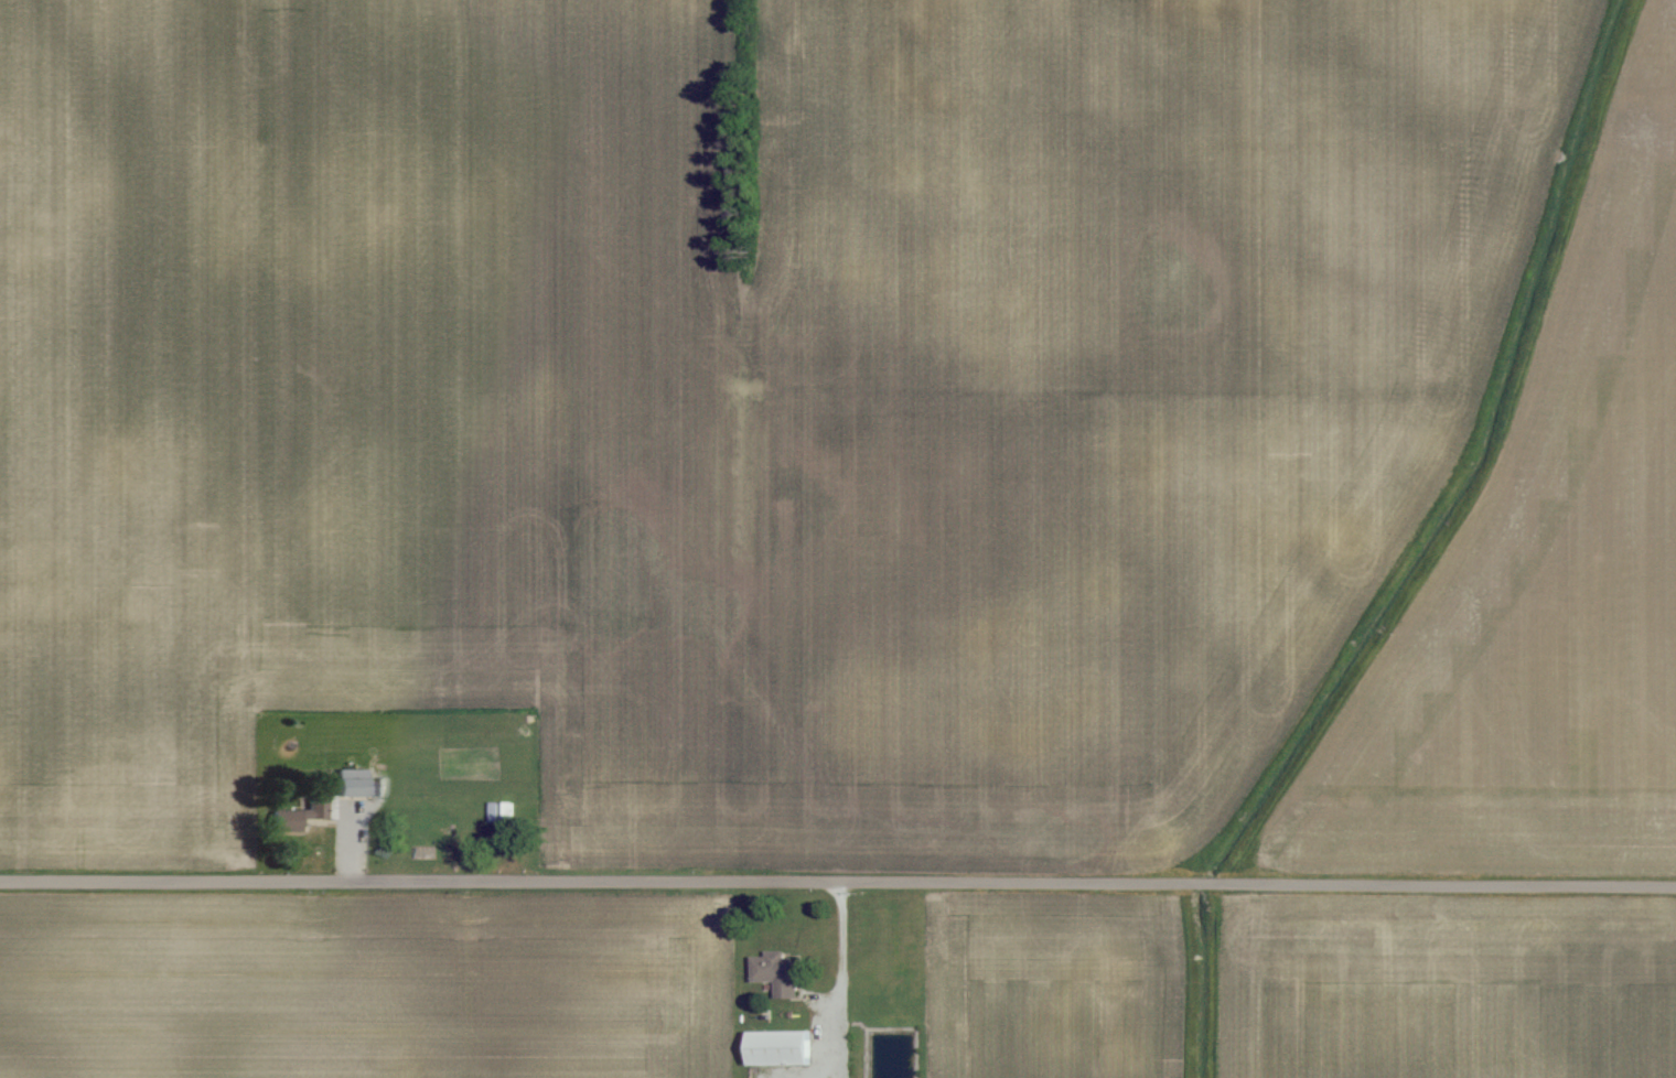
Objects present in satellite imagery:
road: (838, 883)
road: (836, 946)
building: (778, 973)
building: (781, 1048)

